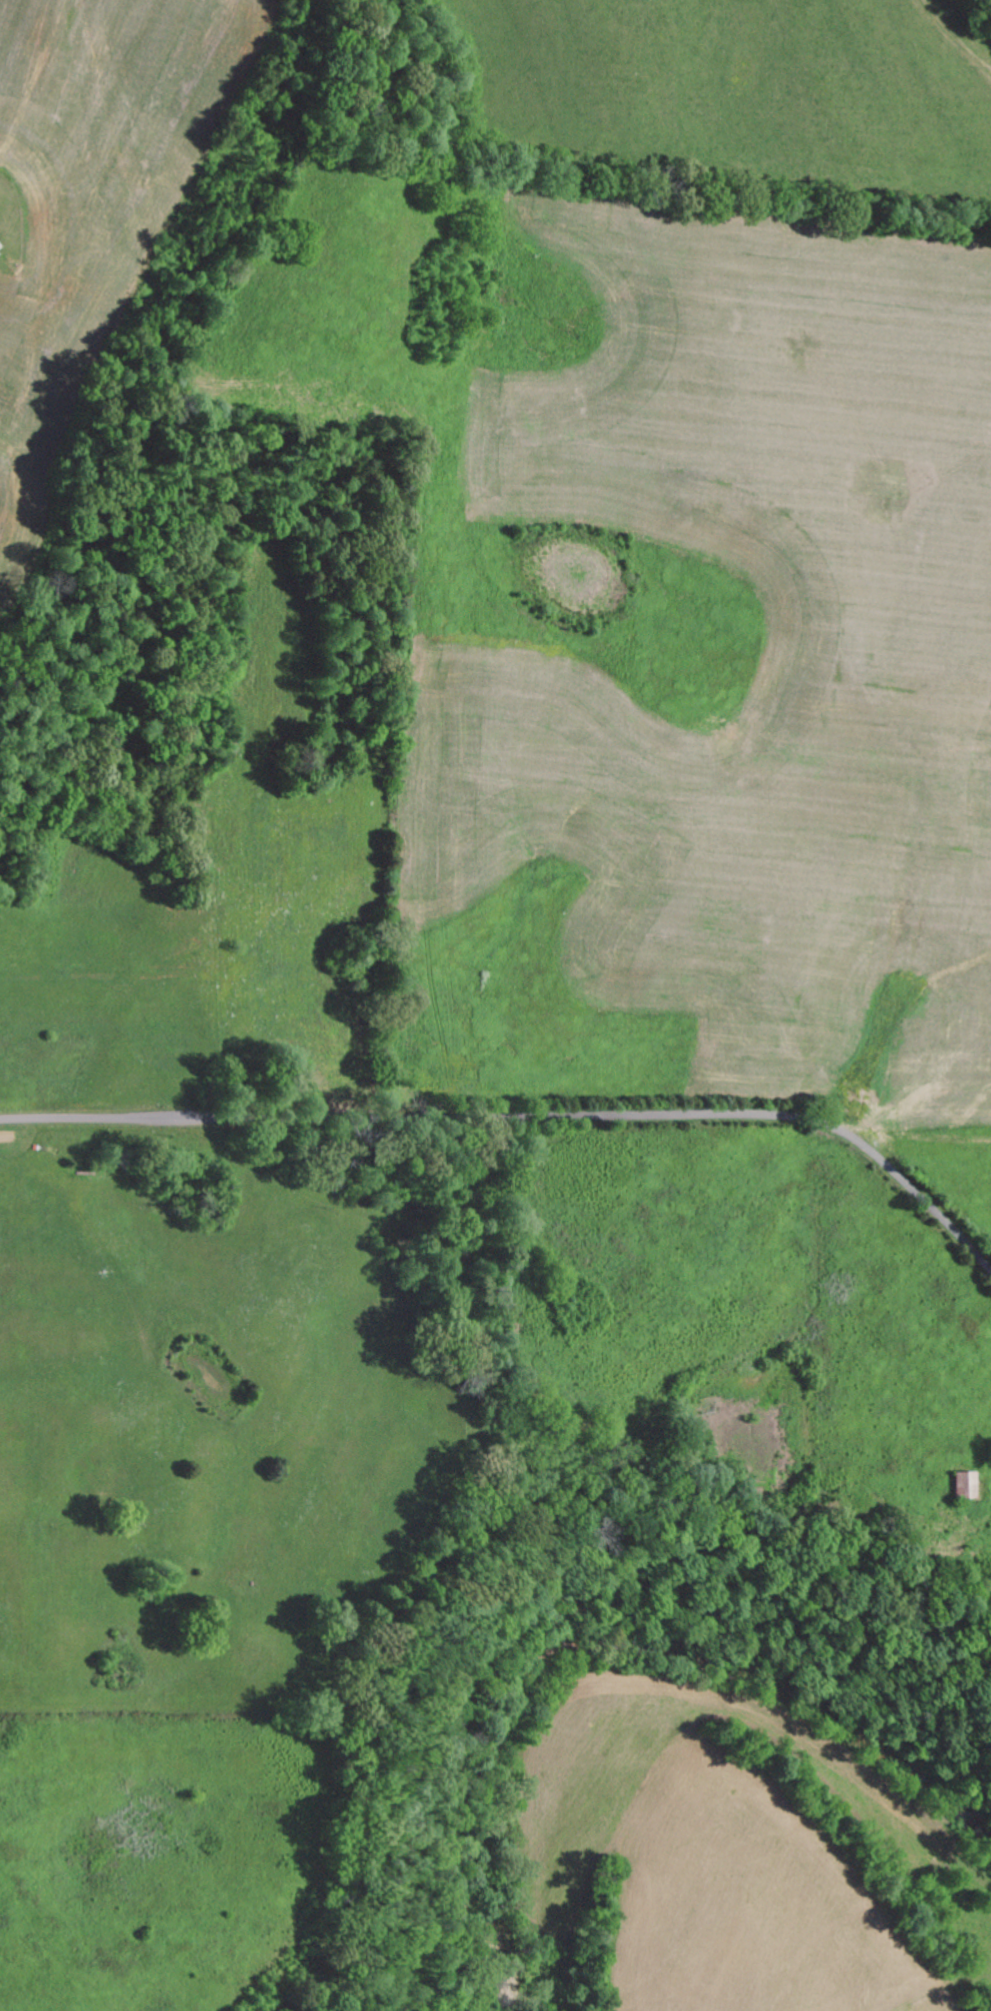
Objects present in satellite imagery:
road: (524, 1114)

